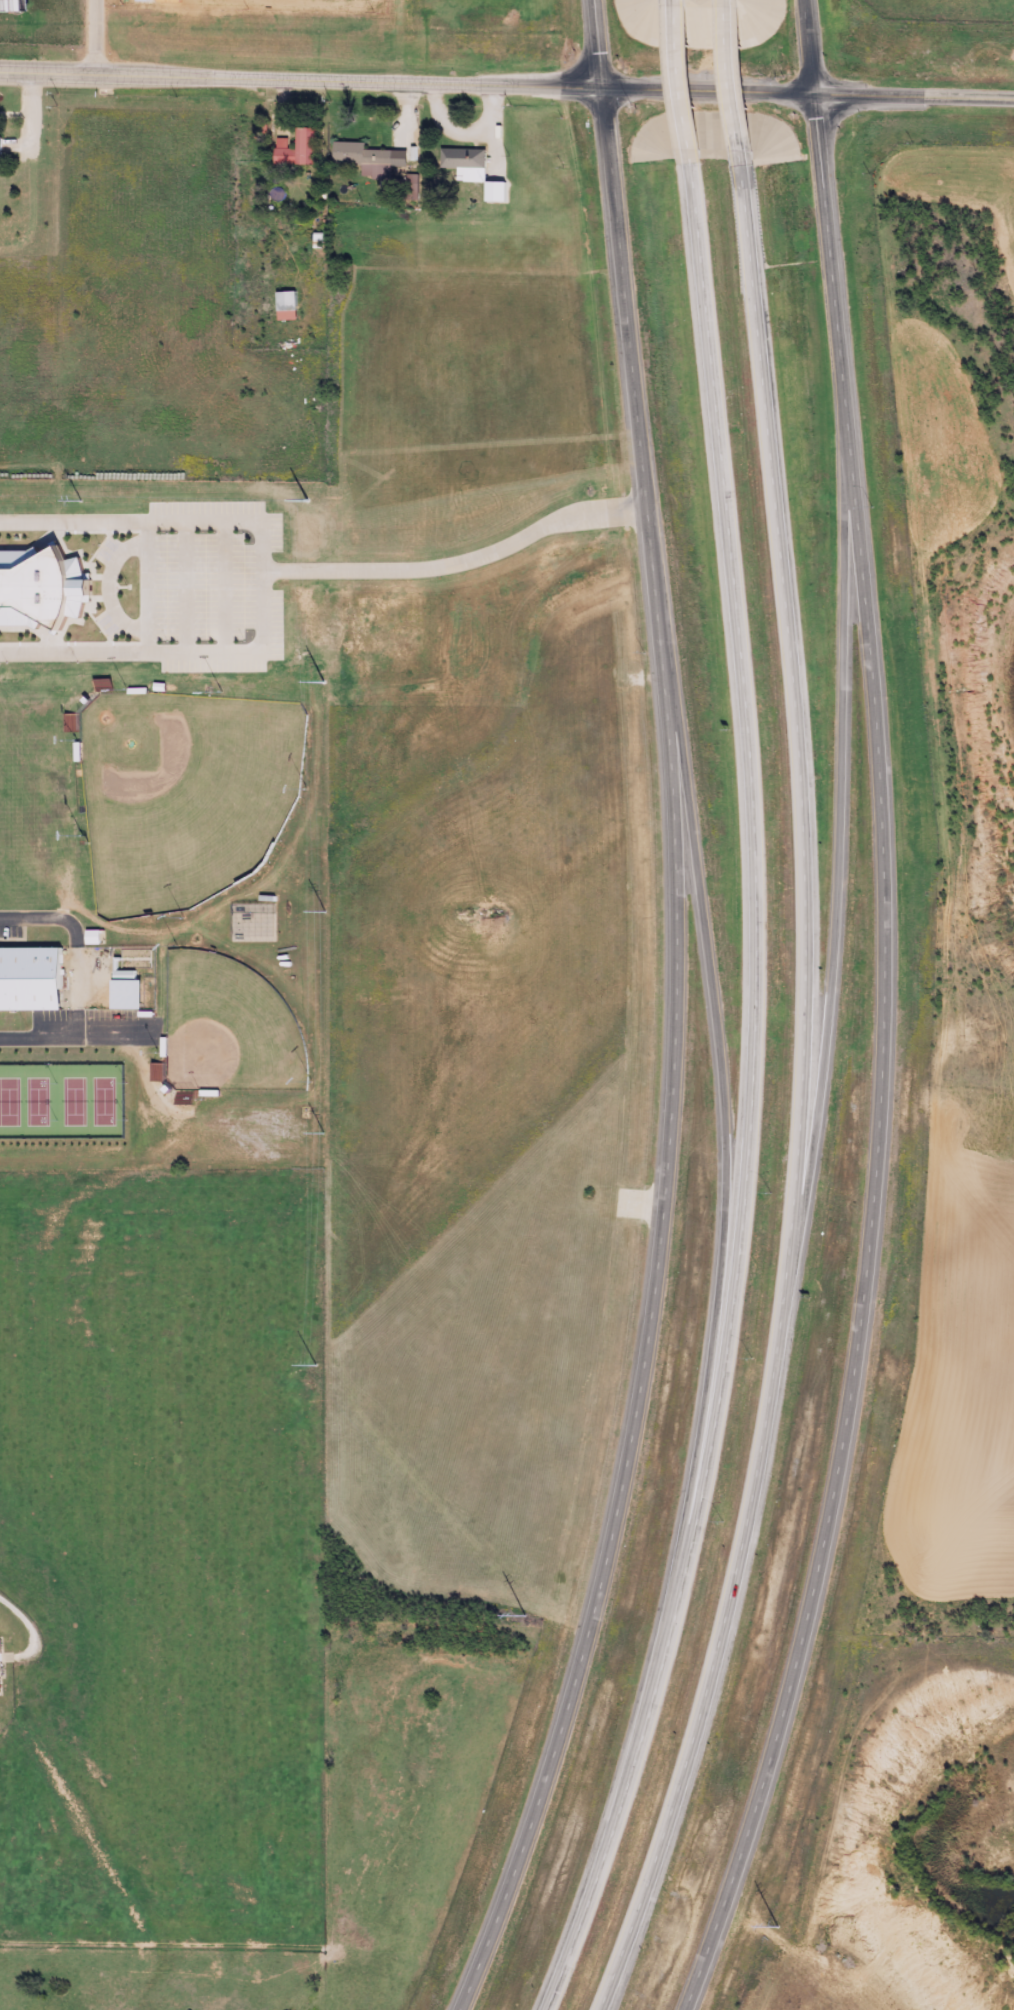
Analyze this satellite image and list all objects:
road: (674, 81)
road: (725, 81)
road: (406, 85)
road: (913, 98)
building: (294, 149)
building: (360, 159)
building: (469, 171)
building: (408, 187)
building: (282, 306)
road: (73, 522)
road: (459, 563)
road: (185, 587)
road: (223, 587)
building: (41, 589)
road: (263, 651)
road: (73, 652)
building: (104, 685)
park: (182, 795)
road: (837, 846)
road: (76, 943)
building: (131, 958)
building: (31, 979)
road: (879, 1015)
road: (671, 1017)
park: (226, 1027)
road: (78, 1037)
road: (718, 1063)
road: (746, 1097)
road: (796, 1097)
park: (59, 1100)

